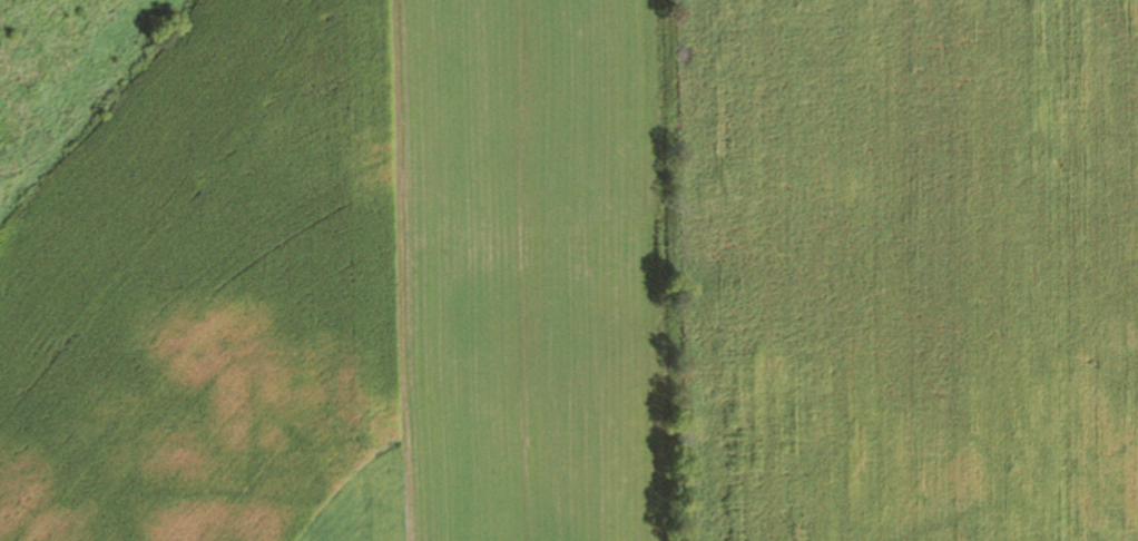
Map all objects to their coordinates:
road: (403, 270)

